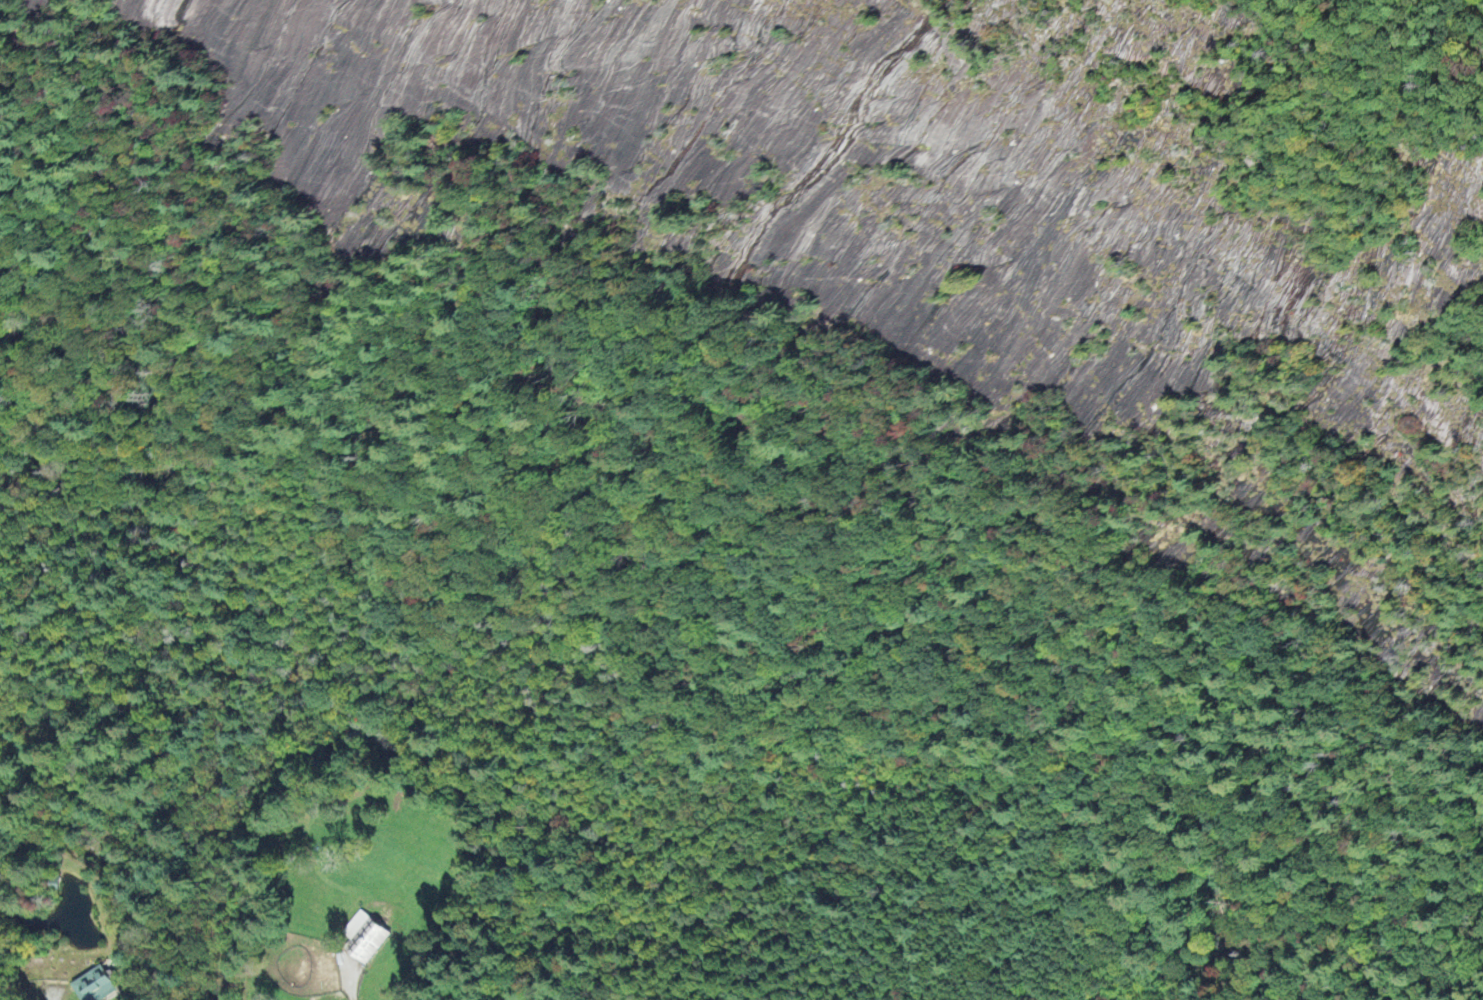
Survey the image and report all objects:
park: (1479, 8)
building: (362, 942)
building: (93, 987)

